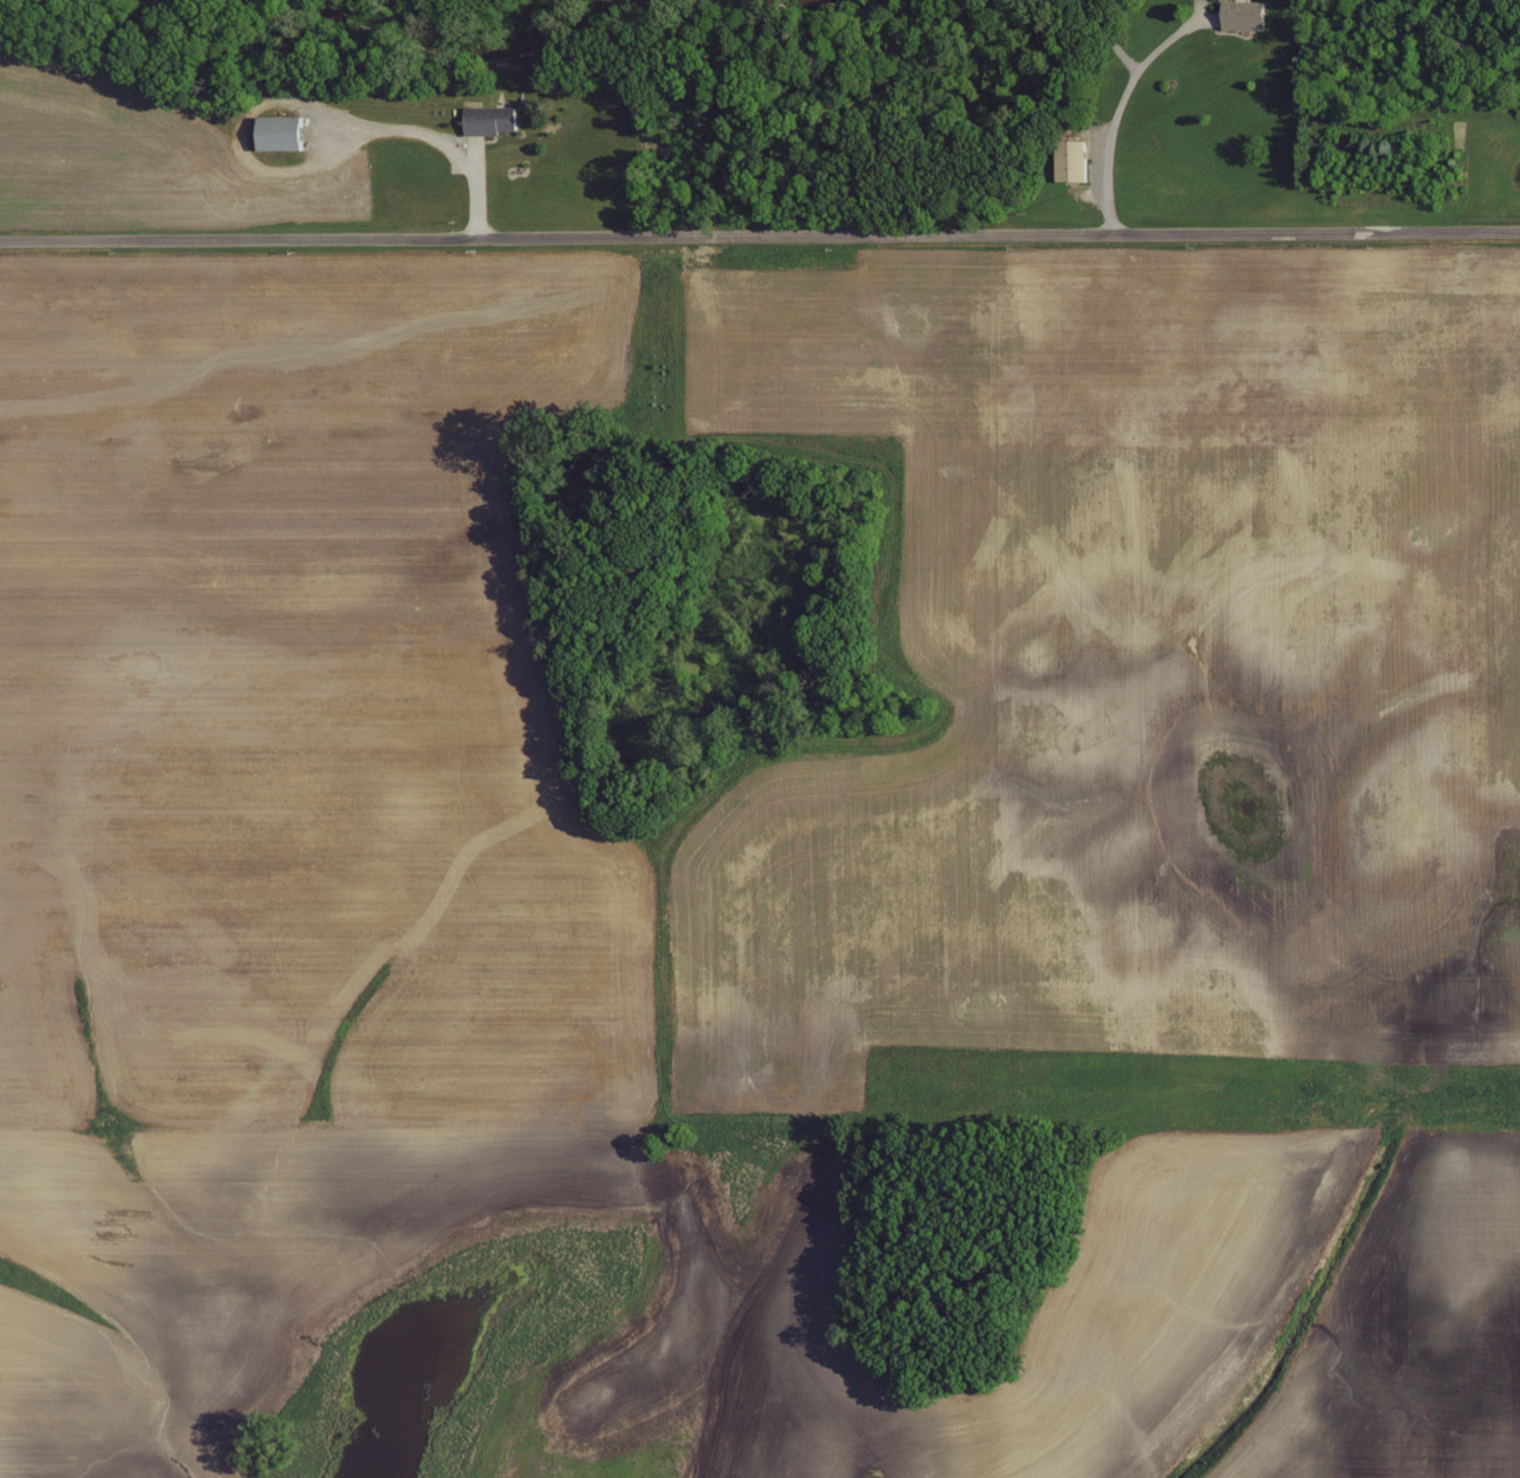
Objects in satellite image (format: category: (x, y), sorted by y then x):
road: (1118, 109)
building: (275, 131)
road: (434, 144)
crop: (149, 151)
road: (759, 237)
crop: (1163, 754)
crop: (279, 838)
crop: (1165, 1262)

